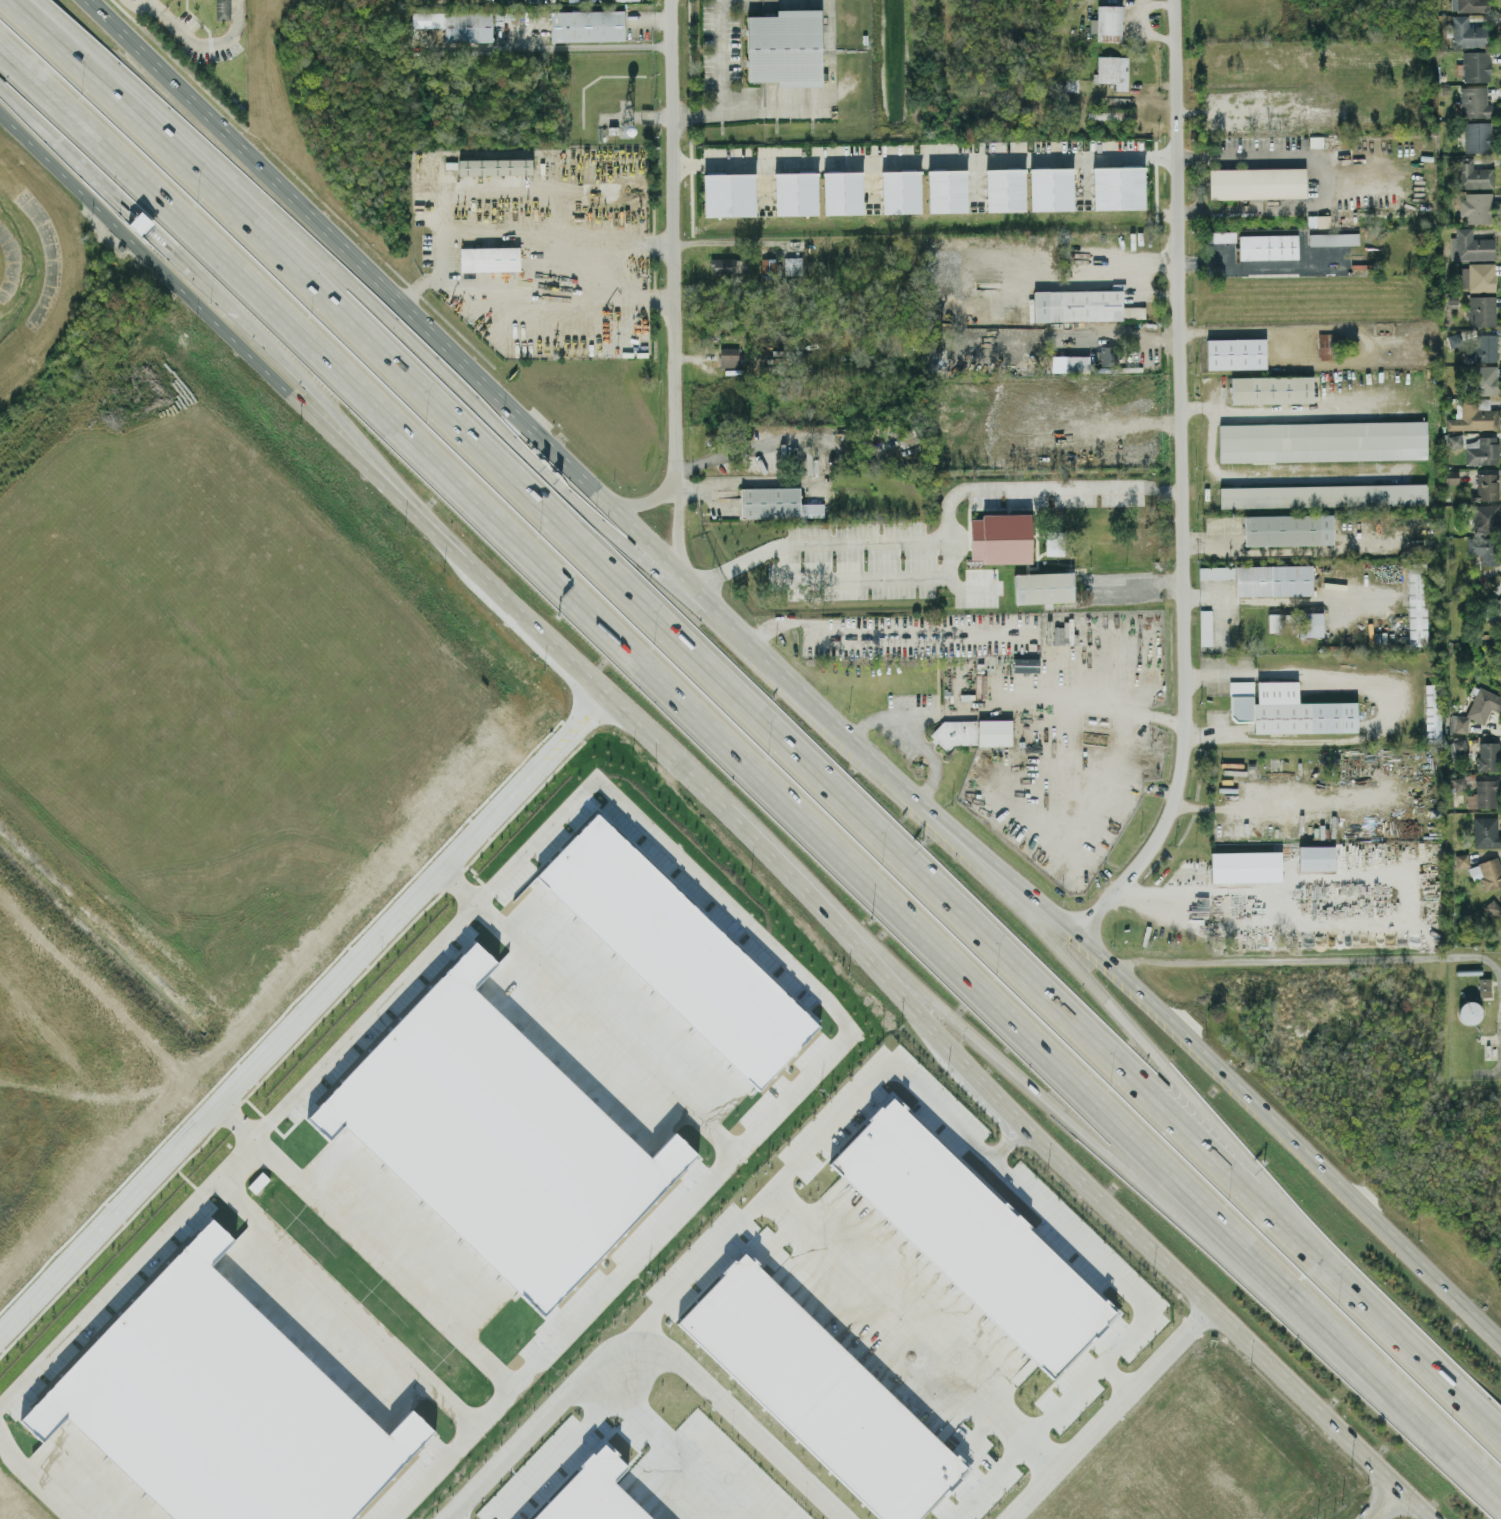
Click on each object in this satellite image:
road: (141, 3)
road: (155, 4)
building: (1469, 5)
building: (223, 9)
road: (653, 18)
road: (828, 20)
building: (1109, 22)
building: (458, 24)
building: (587, 25)
building: (1467, 32)
road: (208, 43)
road: (543, 46)
building: (785, 47)
building: (1476, 65)
building: (1112, 70)
road: (720, 79)
building: (1474, 101)
road: (768, 108)
road: (26, 111)
building: (1477, 136)
road: (925, 160)
building: (495, 166)
building: (1473, 174)
road: (1322, 180)
road: (97, 182)
building: (1257, 182)
building: (1118, 187)
building: (1051, 188)
building: (1005, 189)
building: (947, 190)
building: (900, 191)
building: (842, 192)
building: (795, 193)
building: (729, 194)
building: (1476, 207)
building: (141, 222)
toll booth: (143, 227)
road: (536, 232)
building: (1220, 236)
building: (1333, 238)
road: (678, 241)
building: (1470, 245)
building: (1268, 246)
building: (490, 258)
road: (1166, 259)
building: (724, 265)
building: (767, 265)
building: (792, 265)
road: (1143, 268)
road: (189, 270)
building: (1477, 277)
road: (537, 279)
road: (1104, 283)
building: (1481, 310)
building: (1453, 340)
building: (1325, 345)
building: (1481, 349)
building: (1236, 353)
building: (728, 356)
building: (1107, 358)
road: (296, 371)
road: (450, 379)
building: (1483, 379)
building: (1271, 389)
road: (1306, 413)
building: (1473, 414)
building: (907, 437)
building: (1322, 440)
building: (1455, 440)
building: (1483, 451)
road: (1294, 471)
building: (1451, 476)
road: (1180, 481)
toll booth: (558, 482)
road: (746, 482)
building: (1485, 487)
building: (1322, 495)
road: (648, 500)
building: (776, 503)
building: (1486, 518)
road: (677, 528)
building: (1288, 529)
building: (1001, 538)
road: (938, 539)
building: (1054, 542)
building: (1483, 548)
building: (1216, 572)
road: (880, 578)
building: (1471, 578)
building: (1273, 580)
road: (1134, 583)
building: (1043, 587)
building: (1417, 603)
building: (1493, 605)
building: (1275, 622)
building: (1309, 623)
building: (1205, 627)
building: (1061, 634)
building: (1026, 664)
road: (790, 675)
road: (716, 676)
building: (1483, 704)
building: (1287, 709)
building: (1433, 712)
road: (894, 715)
road: (1062, 718)
building: (1458, 723)
building: (954, 732)
building: (994, 732)
building: (1457, 745)
building: (1488, 756)
road: (752, 769)
building: (1459, 783)
building: (1483, 794)
road: (1274, 803)
road: (722, 808)
building: (1485, 831)
road: (655, 843)
building: (1316, 857)
building: (1462, 860)
building: (1245, 866)
building: (1487, 872)
road: (1355, 874)
building: (1491, 907)
road: (1282, 958)
building: (1484, 986)
road: (1500, 989)
building: (1469, 1012)
road: (588, 1013)
road: (303, 1015)
road: (1198, 1103)
road: (1078, 1119)
road: (1013, 1135)
road: (1073, 1233)
building: (971, 1236)
road: (366, 1248)
road: (344, 1310)
road: (644, 1351)
road: (1120, 1374)
building: (820, 1393)
road: (1459, 1396)
road: (1116, 1411)
road: (659, 1448)
road: (1048, 1449)
road: (557, 1453)
road: (31, 1478)
building: (593, 1492)
road: (1385, 1504)
road: (453, 1517)

